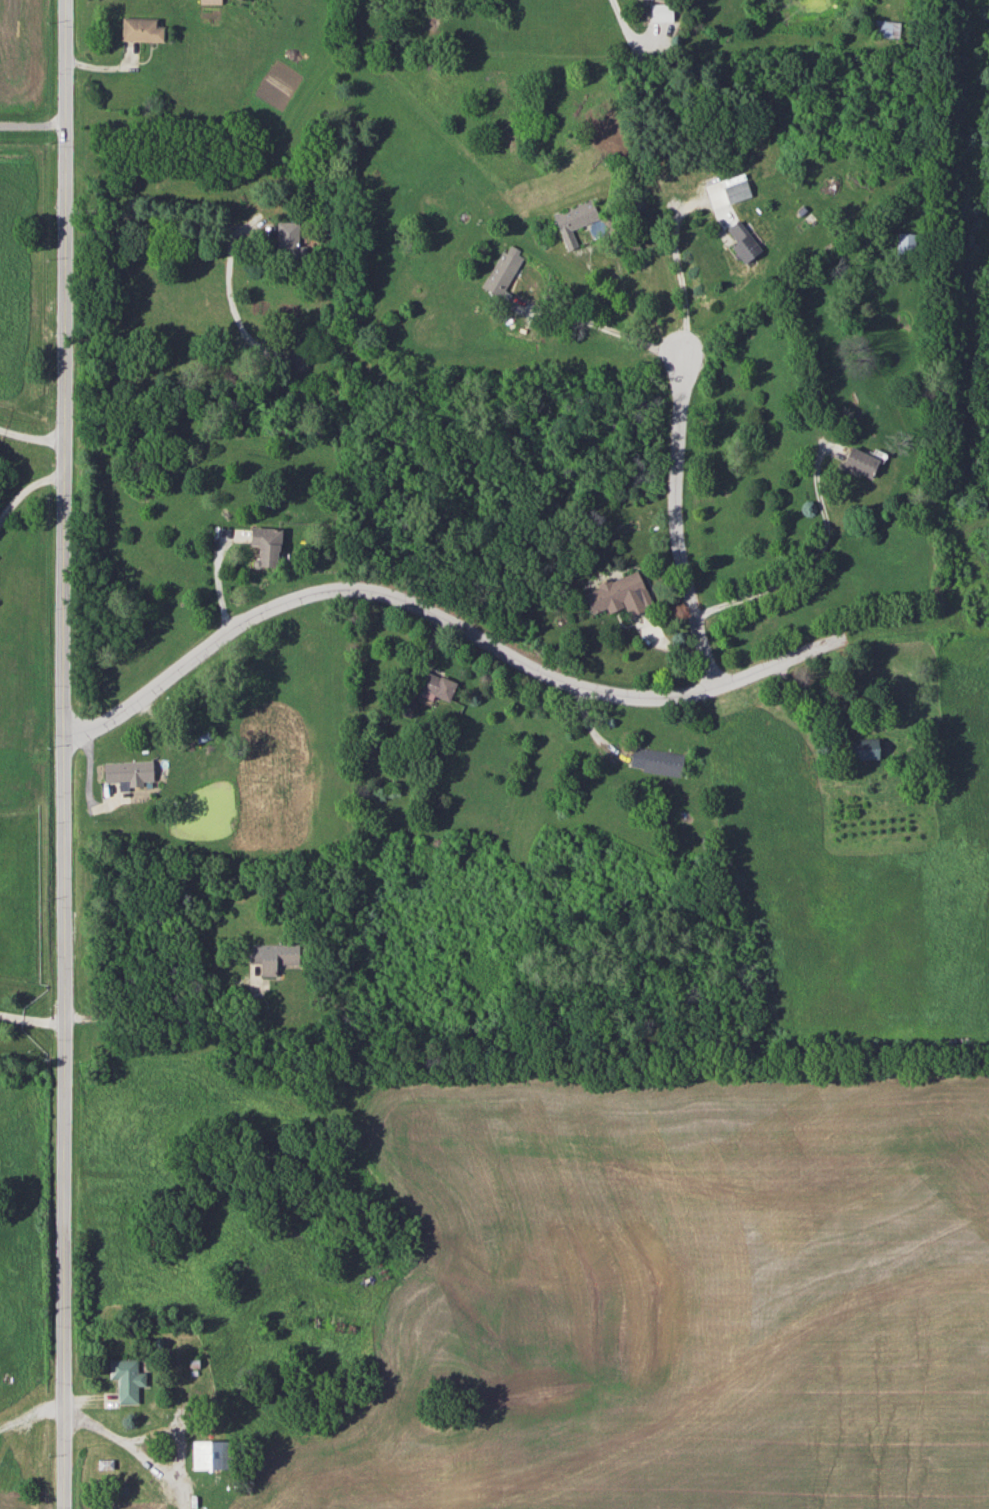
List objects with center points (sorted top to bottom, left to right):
building: (209, 1)
building: (660, 12)
building: (143, 28)
road: (626, 28)
building: (885, 28)
road: (33, 113)
building: (738, 190)
building: (575, 217)
road: (220, 225)
building: (289, 239)
building: (748, 242)
building: (905, 244)
road: (620, 264)
road: (679, 266)
building: (504, 269)
road: (602, 328)
building: (296, 347)
road: (33, 437)
building: (862, 461)
road: (27, 487)
road: (681, 522)
building: (269, 545)
road: (805, 563)
building: (621, 593)
road: (438, 615)
building: (436, 685)
building: (404, 706)
building: (206, 735)
building: (867, 748)
road: (66, 754)
building: (657, 760)
building: (130, 771)
building: (271, 956)
road: (33, 1018)
road: (163, 1019)
building: (126, 1379)
road: (33, 1411)
building: (209, 1454)

